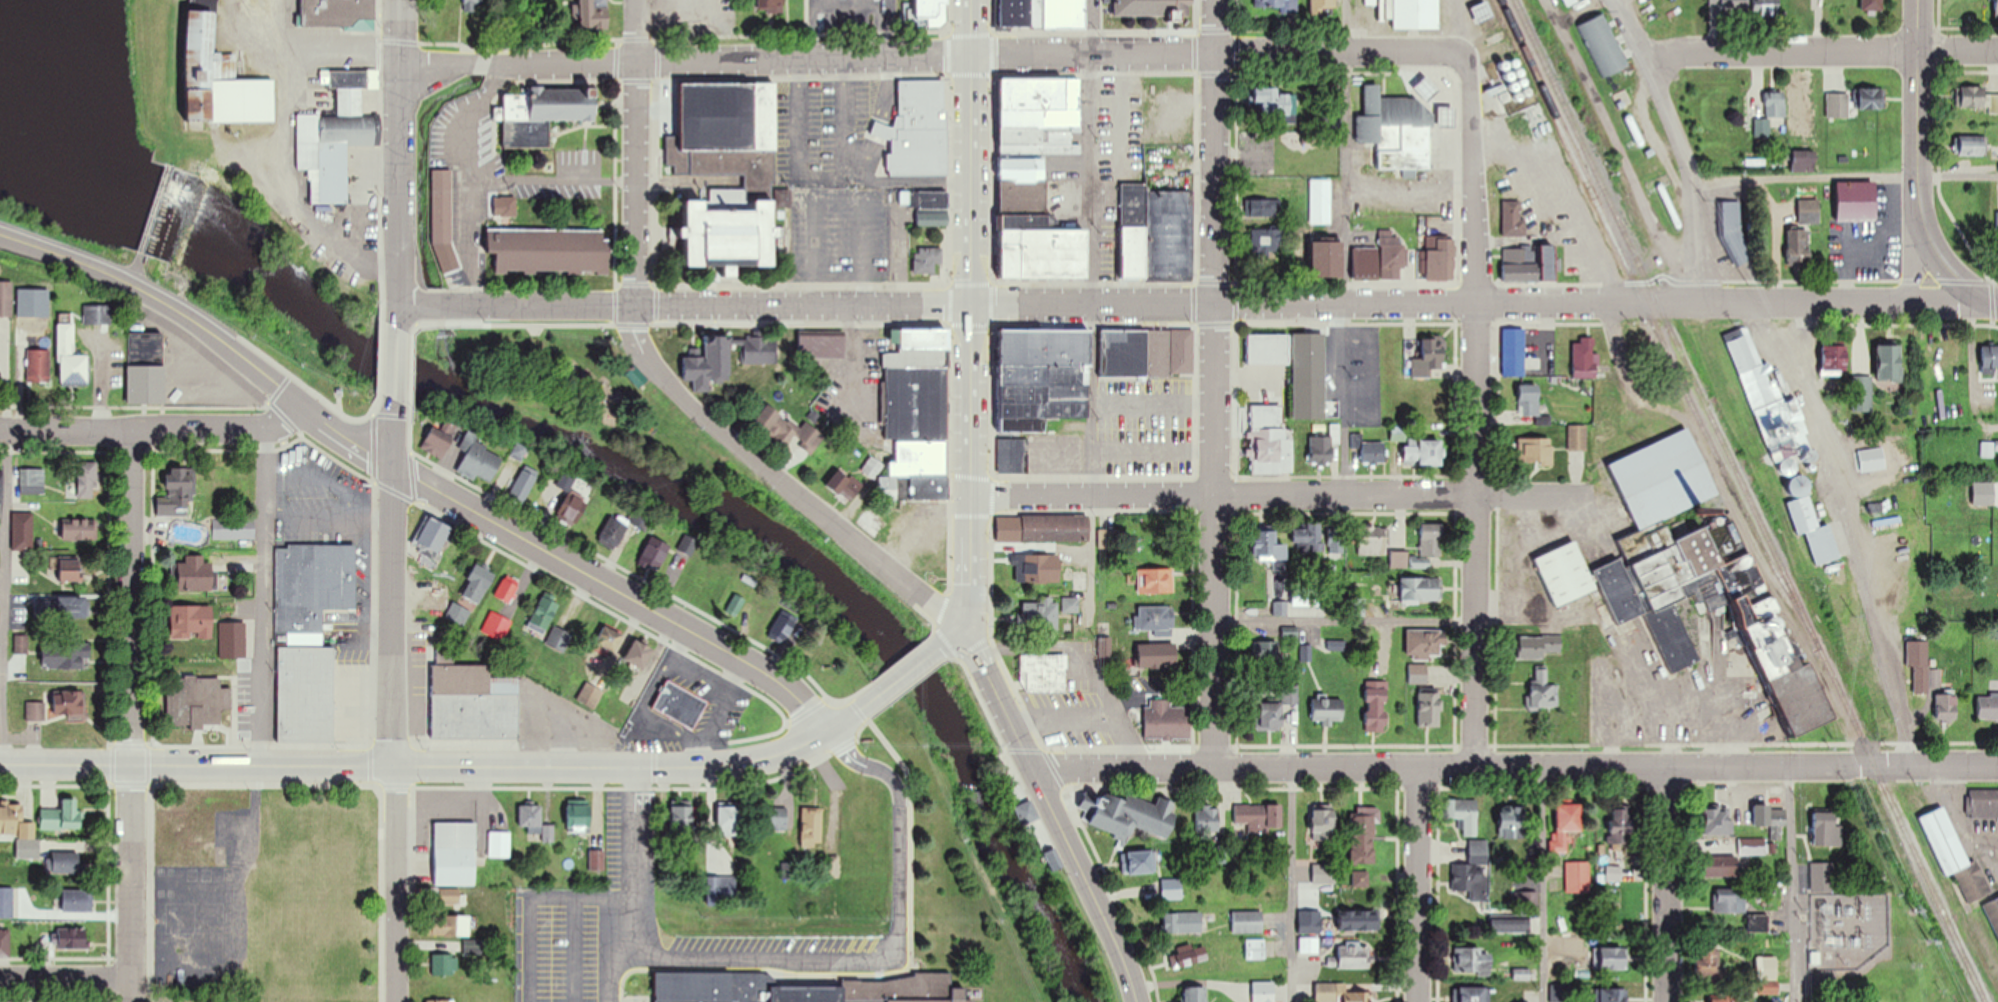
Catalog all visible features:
road: (888, 2)
building: (1567, 2)
building: (1269, 3)
road: (825, 4)
building: (1871, 4)
building: (771, 5)
building: (1323, 5)
building: (1728, 5)
building: (1151, 7)
building: (1767, 7)
building: (1997, 7)
building: (931, 8)
building: (333, 12)
building: (1041, 13)
building: (591, 14)
parking lot: (840, 14)
building: (1409, 16)
road: (970, 28)
road: (889, 31)
building: (1603, 44)
road: (1822, 51)
road: (981, 56)
road: (435, 62)
road: (481, 64)
building: (221, 79)
building: (1978, 97)
building: (1854, 100)
building: (1276, 102)
building: (1771, 111)
building: (542, 112)
building: (1039, 114)
building: (917, 129)
building: (1397, 129)
building: (335, 141)
building: (1120, 146)
building: (1972, 146)
road: (1679, 148)
park: (1280, 150)
road: (636, 153)
road: (1621, 154)
building: (1804, 159)
road: (399, 161)
building: (1127, 167)
road: (1919, 170)
building: (729, 171)
road: (1844, 178)
building: (1320, 200)
building: (1857, 201)
dam: (152, 206)
building: (441, 206)
building: (927, 206)
building: (504, 207)
building: (1261, 207)
building: (1809, 211)
building: (1513, 217)
building: (1997, 222)
building: (1035, 227)
building: (1732, 232)
building: (1155, 233)
building: (1264, 243)
road: (1346, 245)
building: (1799, 246)
building: (549, 250)
building: (1327, 258)
building: (927, 259)
building: (1383, 260)
building: (1441, 260)
road: (1914, 262)
building: (1519, 263)
road: (1198, 303)
building: (4, 306)
road: (1095, 313)
building: (95, 314)
railway: (1655, 327)
building: (19, 336)
road: (1800, 344)
building: (821, 345)
road: (969, 345)
building: (756, 350)
building: (1146, 352)
building: (1514, 352)
building: (1990, 357)
building: (1585, 358)
building: (1835, 358)
building: (69, 360)
building: (1890, 363)
building: (709, 364)
building: (36, 365)
building: (1424, 365)
building: (1295, 366)
building: (144, 367)
road: (395, 372)
building: (1043, 376)
road: (1215, 384)
park: (587, 391)
building: (1862, 393)
building: (609, 394)
building: (1529, 399)
building: (1764, 400)
building: (1431, 402)
road: (1478, 413)
building: (917, 415)
road: (154, 428)
building: (788, 430)
building: (1578, 437)
building: (440, 439)
building: (1269, 440)
road: (392, 443)
building: (1369, 448)
building: (1323, 449)
building: (1535, 449)
building: (1987, 449)
building: (1423, 451)
building: (1012, 454)
building: (479, 460)
building: (871, 466)
building: (567, 478)
building: (86, 479)
road: (417, 479)
road: (780, 480)
building: (30, 481)
building: (523, 483)
building: (843, 484)
building: (177, 492)
road: (1276, 492)
railway: (1750, 501)
building: (572, 508)
building: (873, 520)
building: (1811, 522)
building: (82, 528)
building: (233, 528)
building: (1043, 528)
road: (1843, 528)
building: (21, 531)
building: (613, 531)
building: (1307, 536)
building: (432, 537)
building: (1336, 538)
building: (1371, 540)
building: (1269, 546)
building: (1421, 549)
building: (655, 552)
building: (1037, 567)
building: (1891, 568)
building: (67, 570)
building: (196, 574)
building: (1691, 574)
building: (1155, 580)
building: (478, 584)
building: (312, 585)
building: (507, 589)
building: (1420, 590)
road: (264, 595)
road: (6, 596)
building: (1304, 604)
building: (1070, 605)
building: (72, 607)
building: (1355, 607)
building: (1040, 614)
building: (543, 615)
building: (1156, 619)
road: (1346, 621)
building: (191, 622)
building: (784, 627)
road: (952, 639)
building: (232, 640)
building: (607, 643)
building: (1425, 643)
building: (1539, 646)
building: (64, 655)
building: (639, 655)
building: (1158, 655)
building: (1266, 656)
building: (1919, 664)
building: (1043, 673)
building: (1417, 674)
road: (899, 680)
building: (301, 687)
building: (1543, 691)
building: (589, 695)
building: (195, 702)
building: (473, 703)
building: (680, 704)
building: (69, 705)
building: (1377, 706)
building: (1946, 707)
building: (1987, 707)
building: (1328, 709)
building: (1430, 709)
building: (35, 712)
road: (131, 715)
building: (1166, 720)
road: (840, 723)
road: (395, 733)
road: (415, 765)
road: (1515, 768)
building: (1983, 803)
building: (1027, 813)
road: (1053, 813)
building: (1463, 814)
building: (1129, 815)
building: (1258, 815)
building: (61, 816)
building: (579, 816)
building: (1774, 817)
building: (531, 818)
building: (776, 818)
building: (682, 819)
building: (730, 819)
building: (1208, 819)
building: (1324, 819)
building: (1718, 821)
building: (15, 822)
building: (1512, 823)
building: (1566, 825)
building: (812, 827)
building: (1364, 827)
building: (1620, 829)
building: (1827, 829)
building: (548, 833)
building: (499, 844)
building: (1752, 847)
building: (1952, 851)
building: (455, 854)
road: (636, 861)
building: (66, 862)
building: (1139, 862)
building: (1720, 866)
building: (1473, 872)
building: (1325, 873)
building: (1577, 877)
building: (1822, 877)
road: (1663, 884)
road: (1792, 884)
road: (1292, 885)
road: (1418, 885)
road: (1543, 885)
building: (1169, 889)
building: (722, 890)
building: (450, 896)
building: (77, 900)
road: (623, 901)
building: (1729, 901)
building: (6, 902)
building: (309, 905)
road: (531, 913)
building: (1993, 913)
building: (1358, 920)
building: (1185, 922)
building: (1247, 922)
building: (1758, 923)
building: (451, 926)
building: (1310, 926)
building: (1510, 926)
power substation: (1848, 927)
building: (71, 939)
building: (1567, 942)
building: (5, 943)
building: (1308, 946)
building: (1255, 949)
road: (572, 952)
road: (610, 952)
road: (897, 955)
building: (1188, 956)
building: (1353, 956)
building: (1614, 959)
building: (1472, 962)
building: (444, 964)
building: (1708, 964)
road: (67, 976)
building: (1767, 976)
building: (805, 987)
building: (1263, 991)
building: (1339, 994)
building: (1474, 994)
building: (1195, 995)
building: (1614, 995)
building: (1726, 997)
building: (439, 1001)

